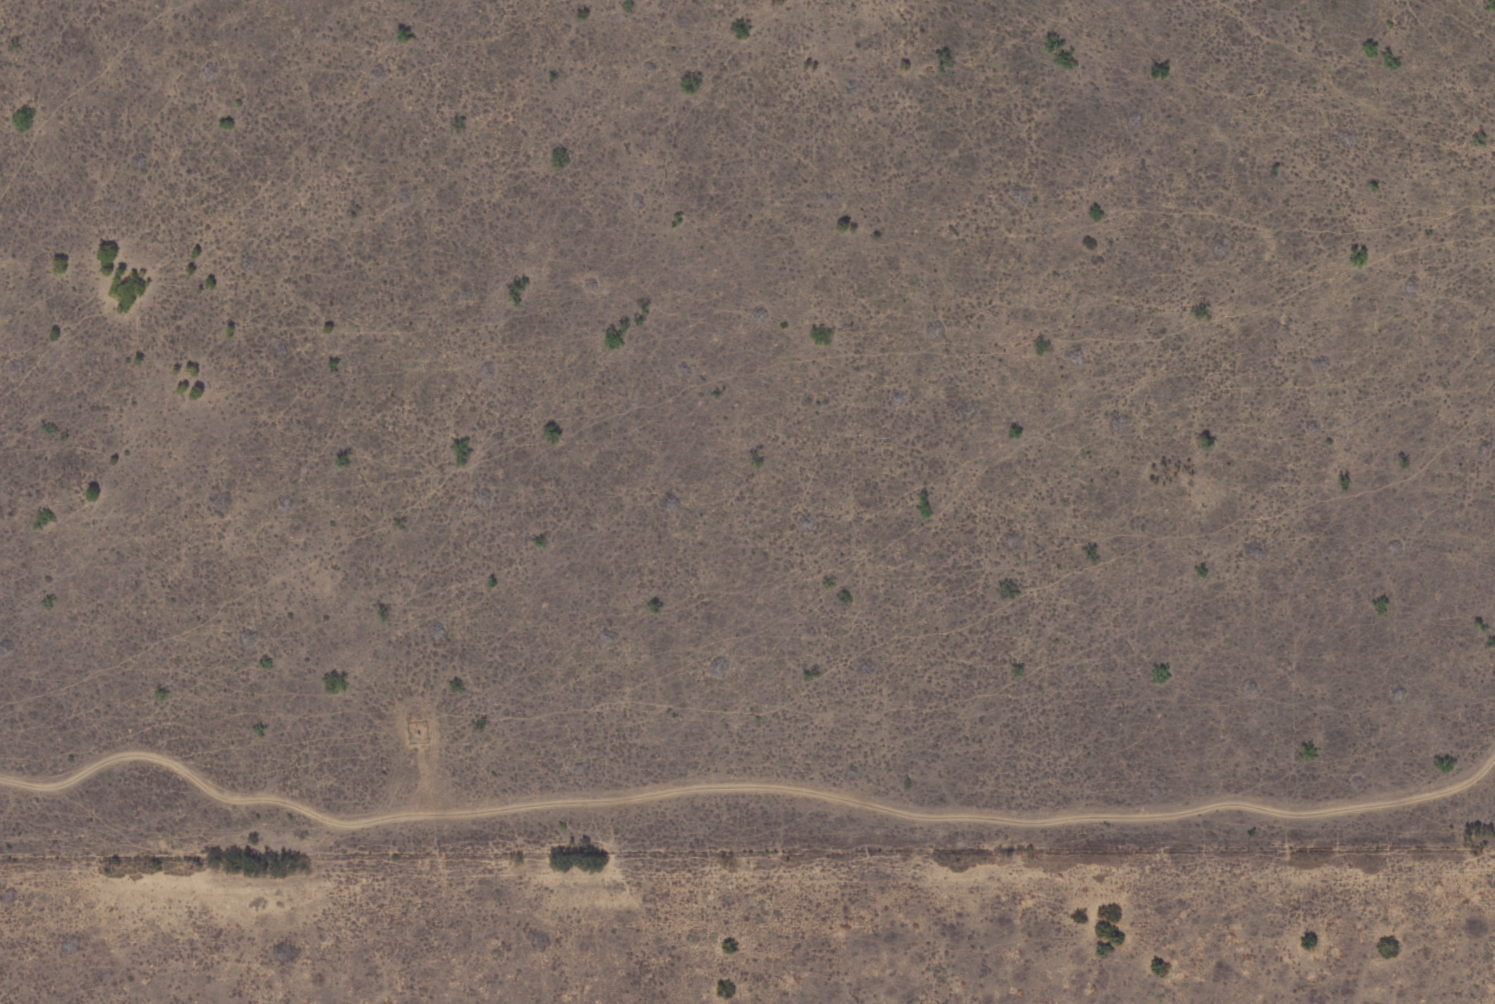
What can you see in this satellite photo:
road: (758, 744)

